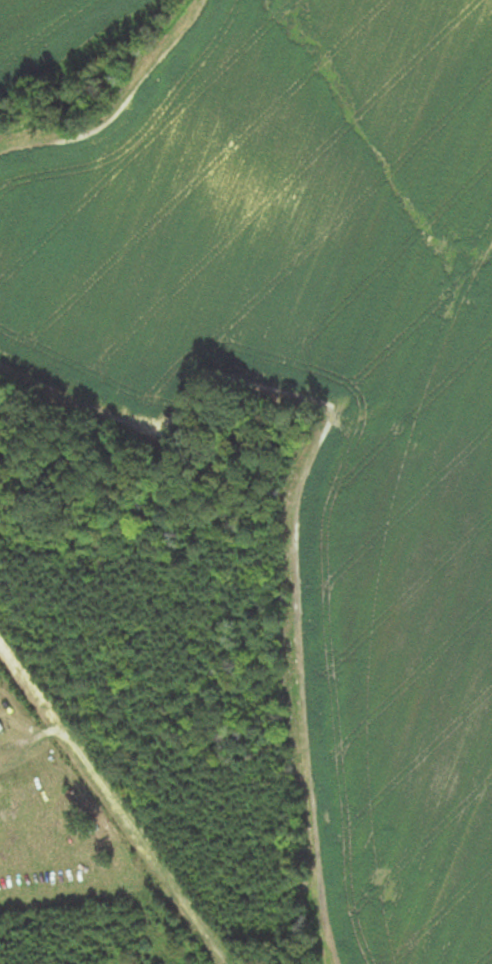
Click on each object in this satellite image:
building: (1, 728)

